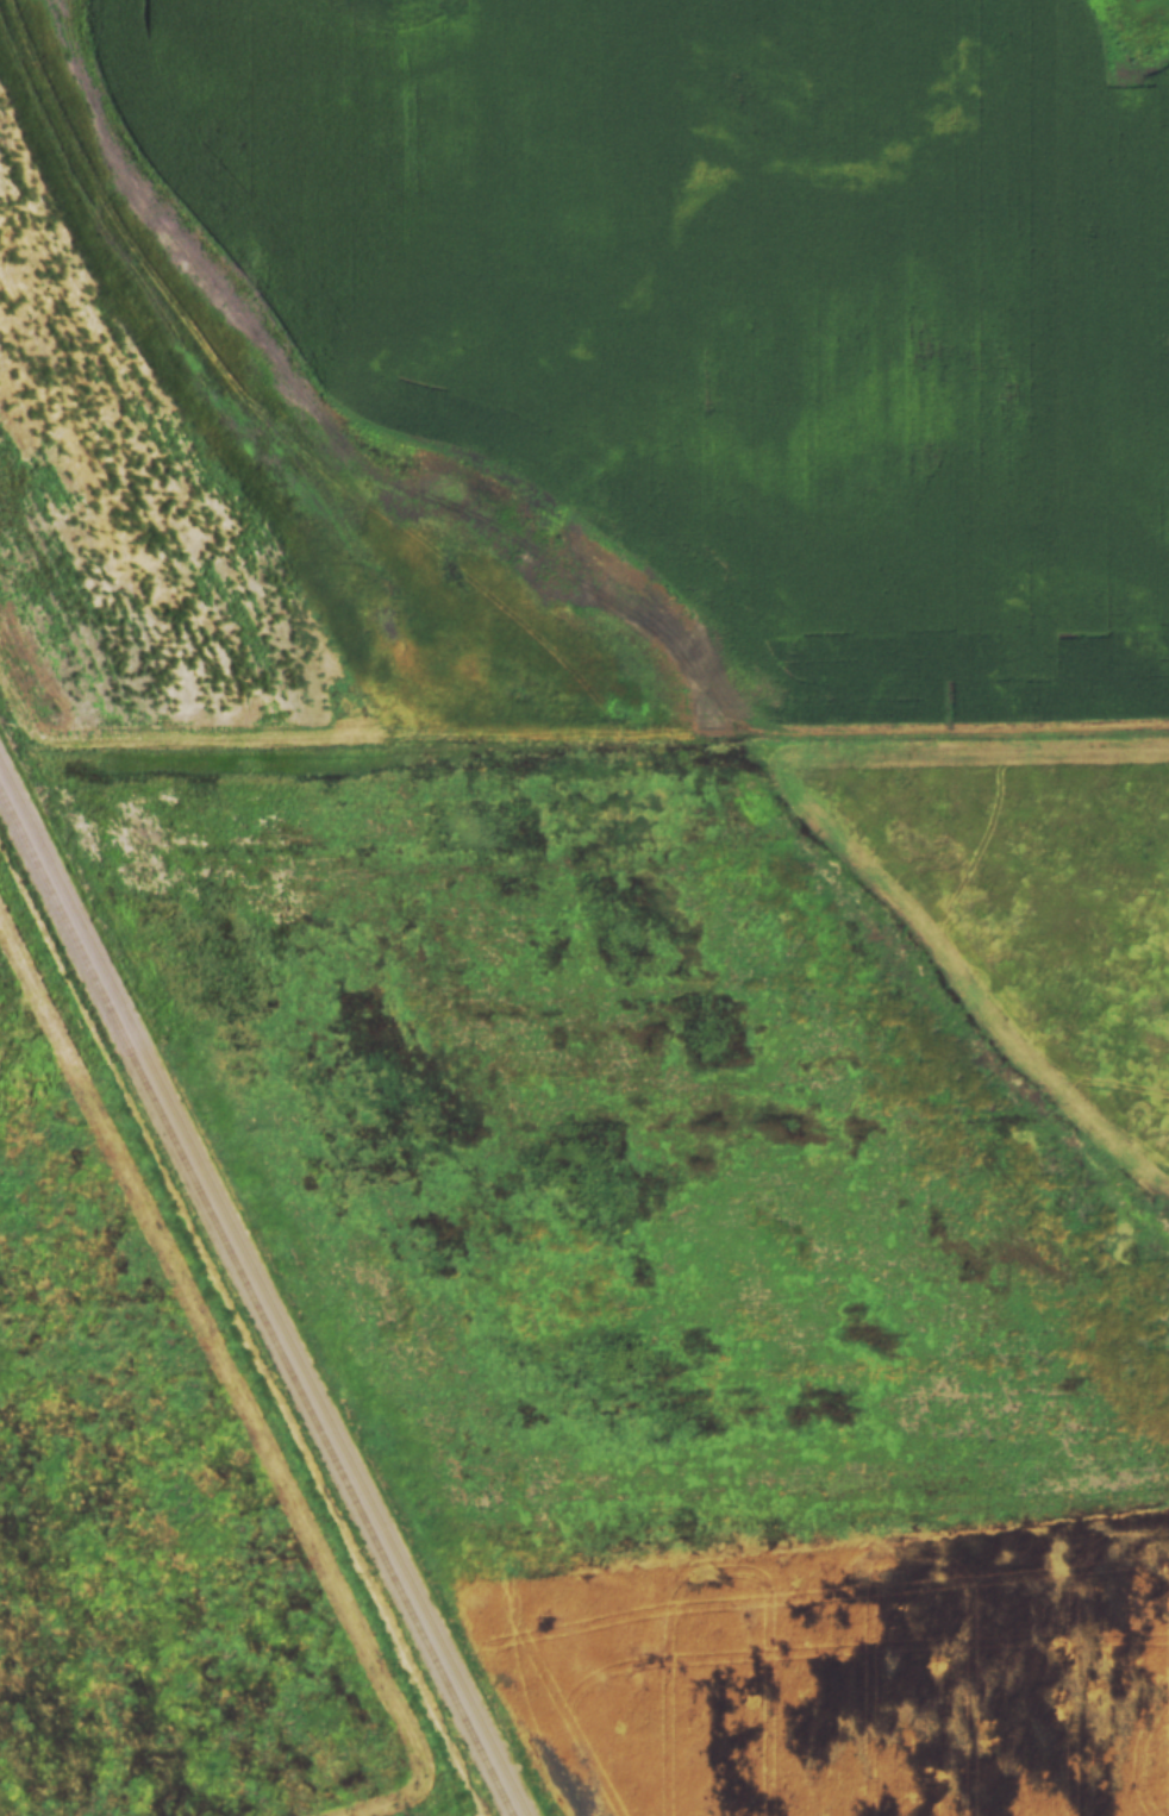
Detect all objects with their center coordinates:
railway: (265, 1286)
railway: (257, 1302)

